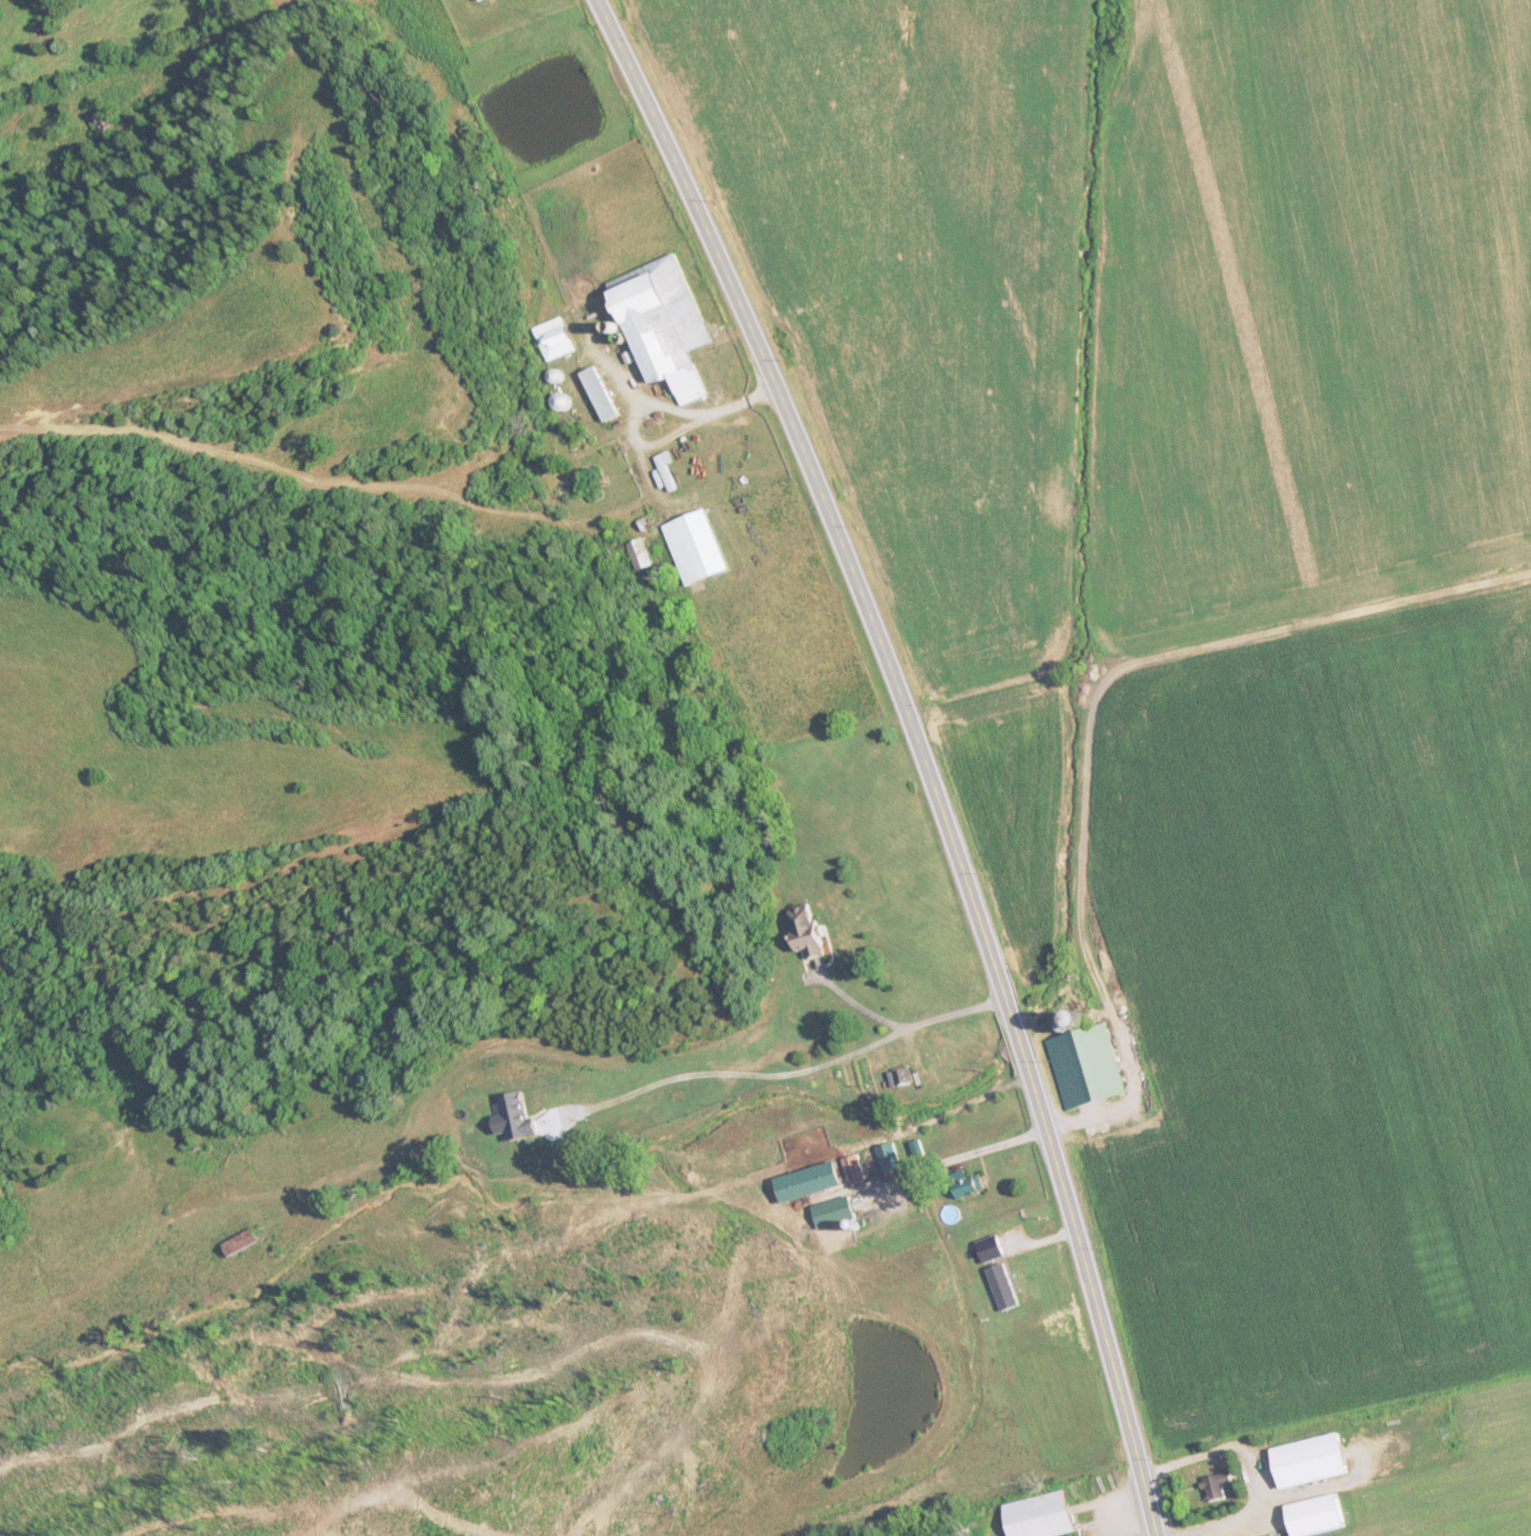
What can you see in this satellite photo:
building: (479, 1)
building: (665, 326)
building: (557, 339)
building: (603, 396)
building: (696, 548)
building: (641, 555)
road: (1091, 720)
road: (921, 751)
building: (808, 930)
road: (828, 1040)
building: (1087, 1067)
building: (904, 1076)
building: (520, 1118)
building: (889, 1158)
building: (856, 1176)
building: (810, 1183)
building: (973, 1186)
building: (843, 1209)
building: (1312, 1462)
building: (1219, 1487)
building: (1043, 1516)

